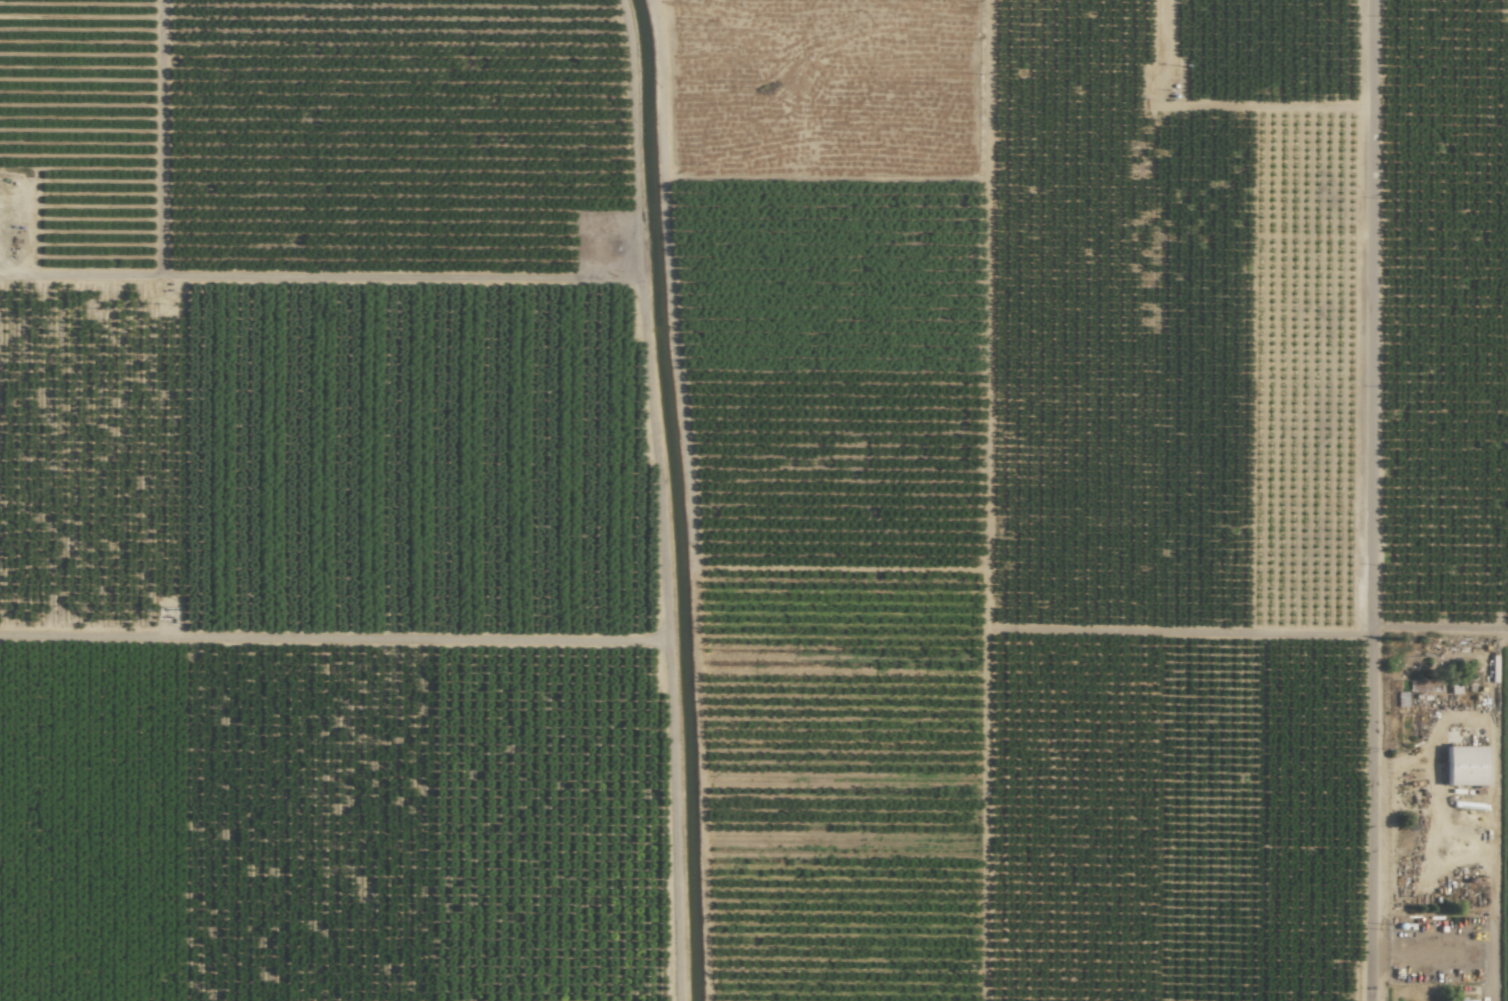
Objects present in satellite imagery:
road: (1374, 500)
road: (1441, 626)
building: (1423, 685)
building: (1463, 766)
road: (1447, 964)
building: (1464, 1000)

